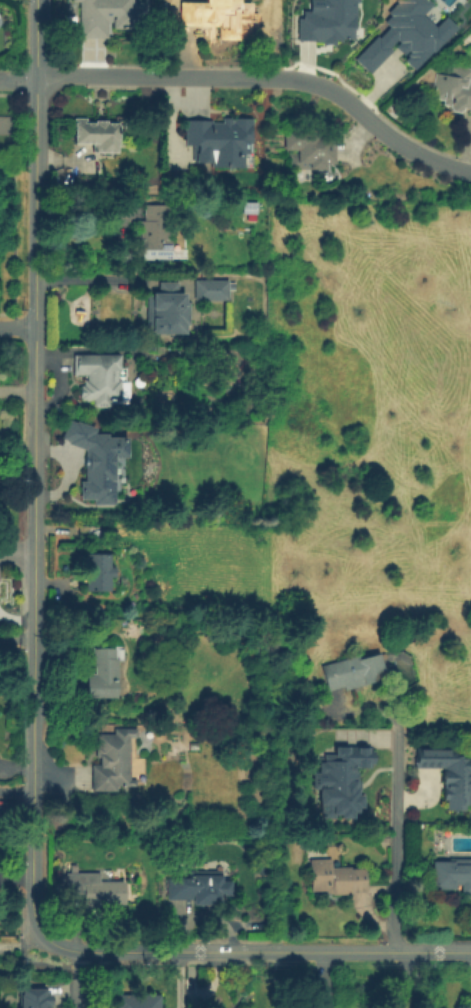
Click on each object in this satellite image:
building: (108, 16)
building: (214, 16)
building: (328, 22)
building: (404, 34)
road: (34, 38)
road: (176, 76)
road: (17, 77)
building: (455, 89)
road: (344, 98)
building: (96, 134)
building: (218, 141)
building: (309, 147)
road: (416, 149)
road: (33, 202)
building: (155, 233)
road: (92, 282)
building: (213, 290)
building: (167, 311)
road: (16, 327)
building: (99, 378)
road: (16, 391)
building: (99, 459)
building: (81, 502)
road: (16, 556)
building: (97, 572)
road: (16, 636)
building: (353, 672)
building: (103, 676)
road: (376, 738)
building: (111, 762)
building: (450, 775)
building: (331, 782)
road: (15, 790)
road: (419, 798)
road: (392, 803)
road: (32, 850)
building: (452, 874)
building: (335, 878)
building: (198, 889)
building: (94, 890)
road: (368, 919)
road: (20, 942)
road: (76, 979)
road: (397, 979)
building: (31, 998)
building: (134, 1001)

